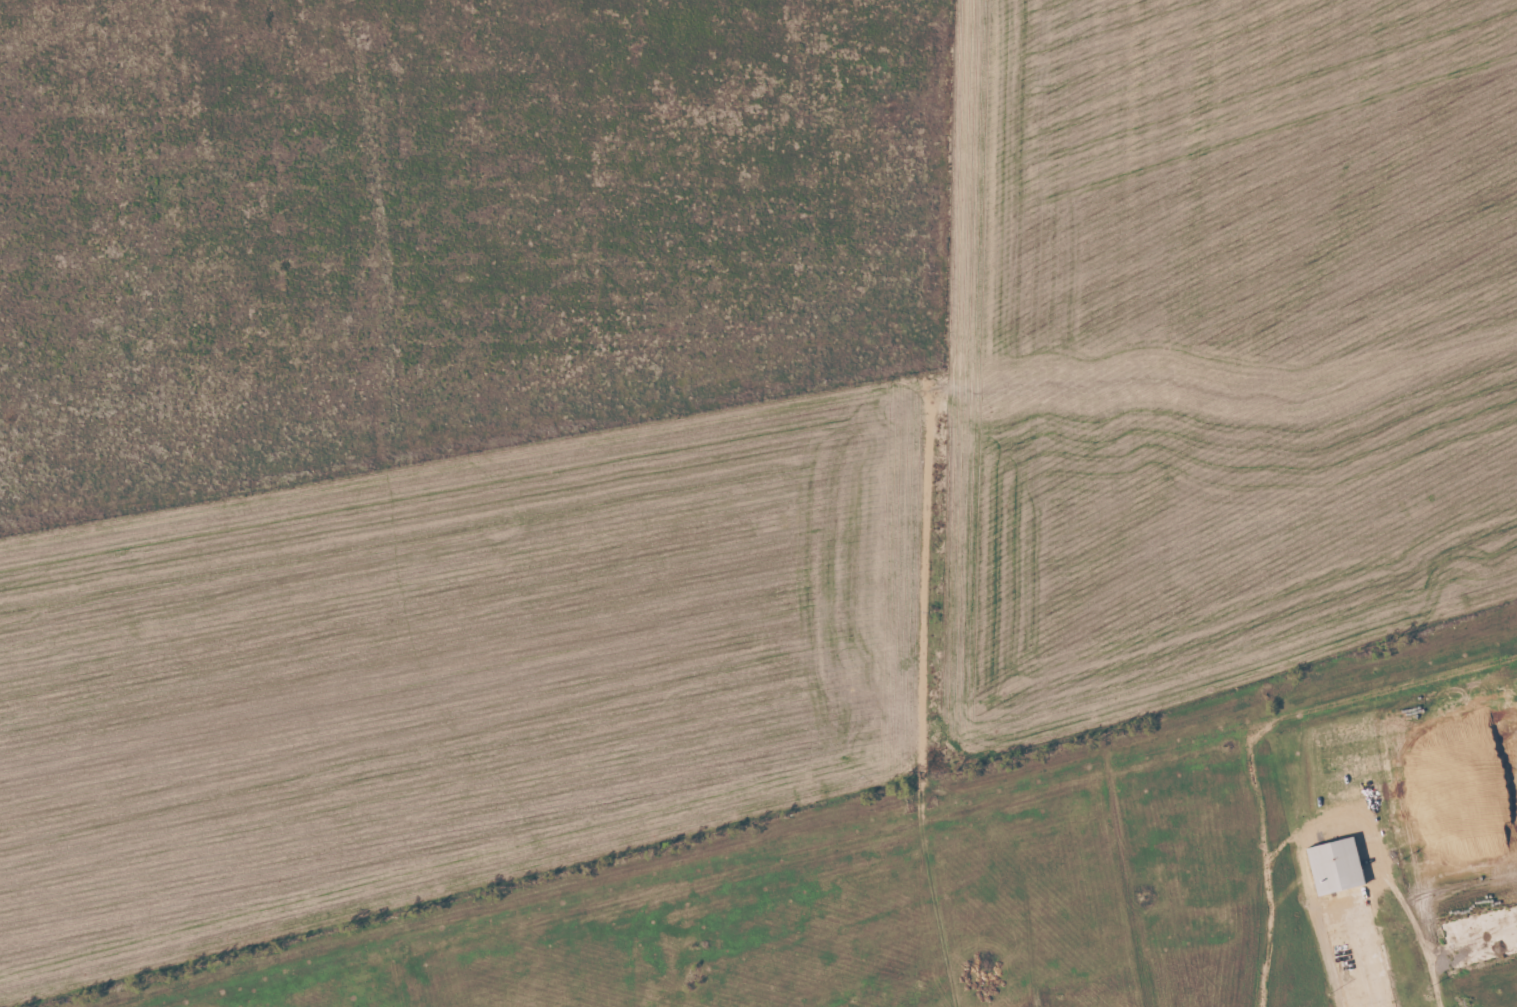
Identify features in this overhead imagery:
railway: (801, 822)
building: (1333, 865)

